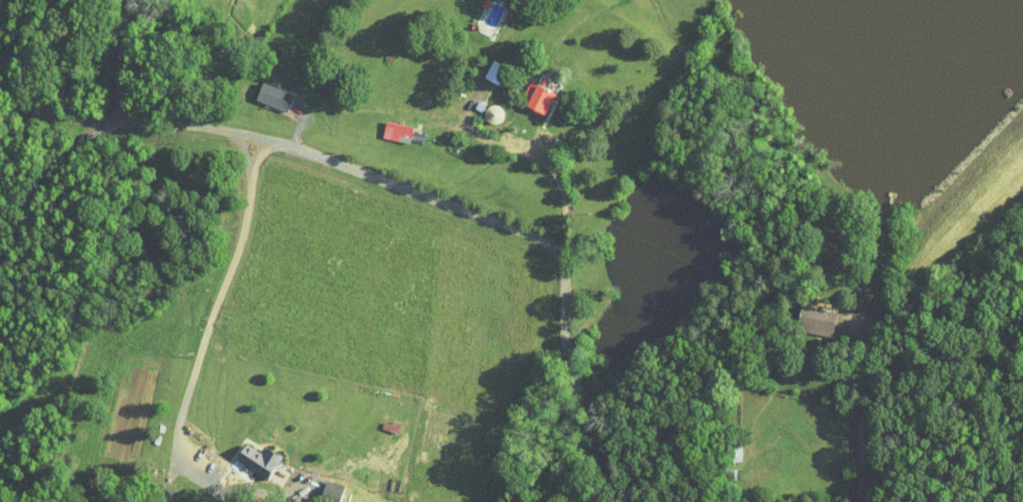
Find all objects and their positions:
road: (121, 58)
building: (483, 66)
building: (534, 76)
building: (262, 90)
building: (526, 92)
building: (385, 125)
road: (543, 127)
road: (477, 131)
road: (282, 142)
road: (46, 180)
road: (229, 276)
building: (804, 315)
road: (566, 326)
road: (862, 417)
building: (246, 452)
building: (320, 485)

